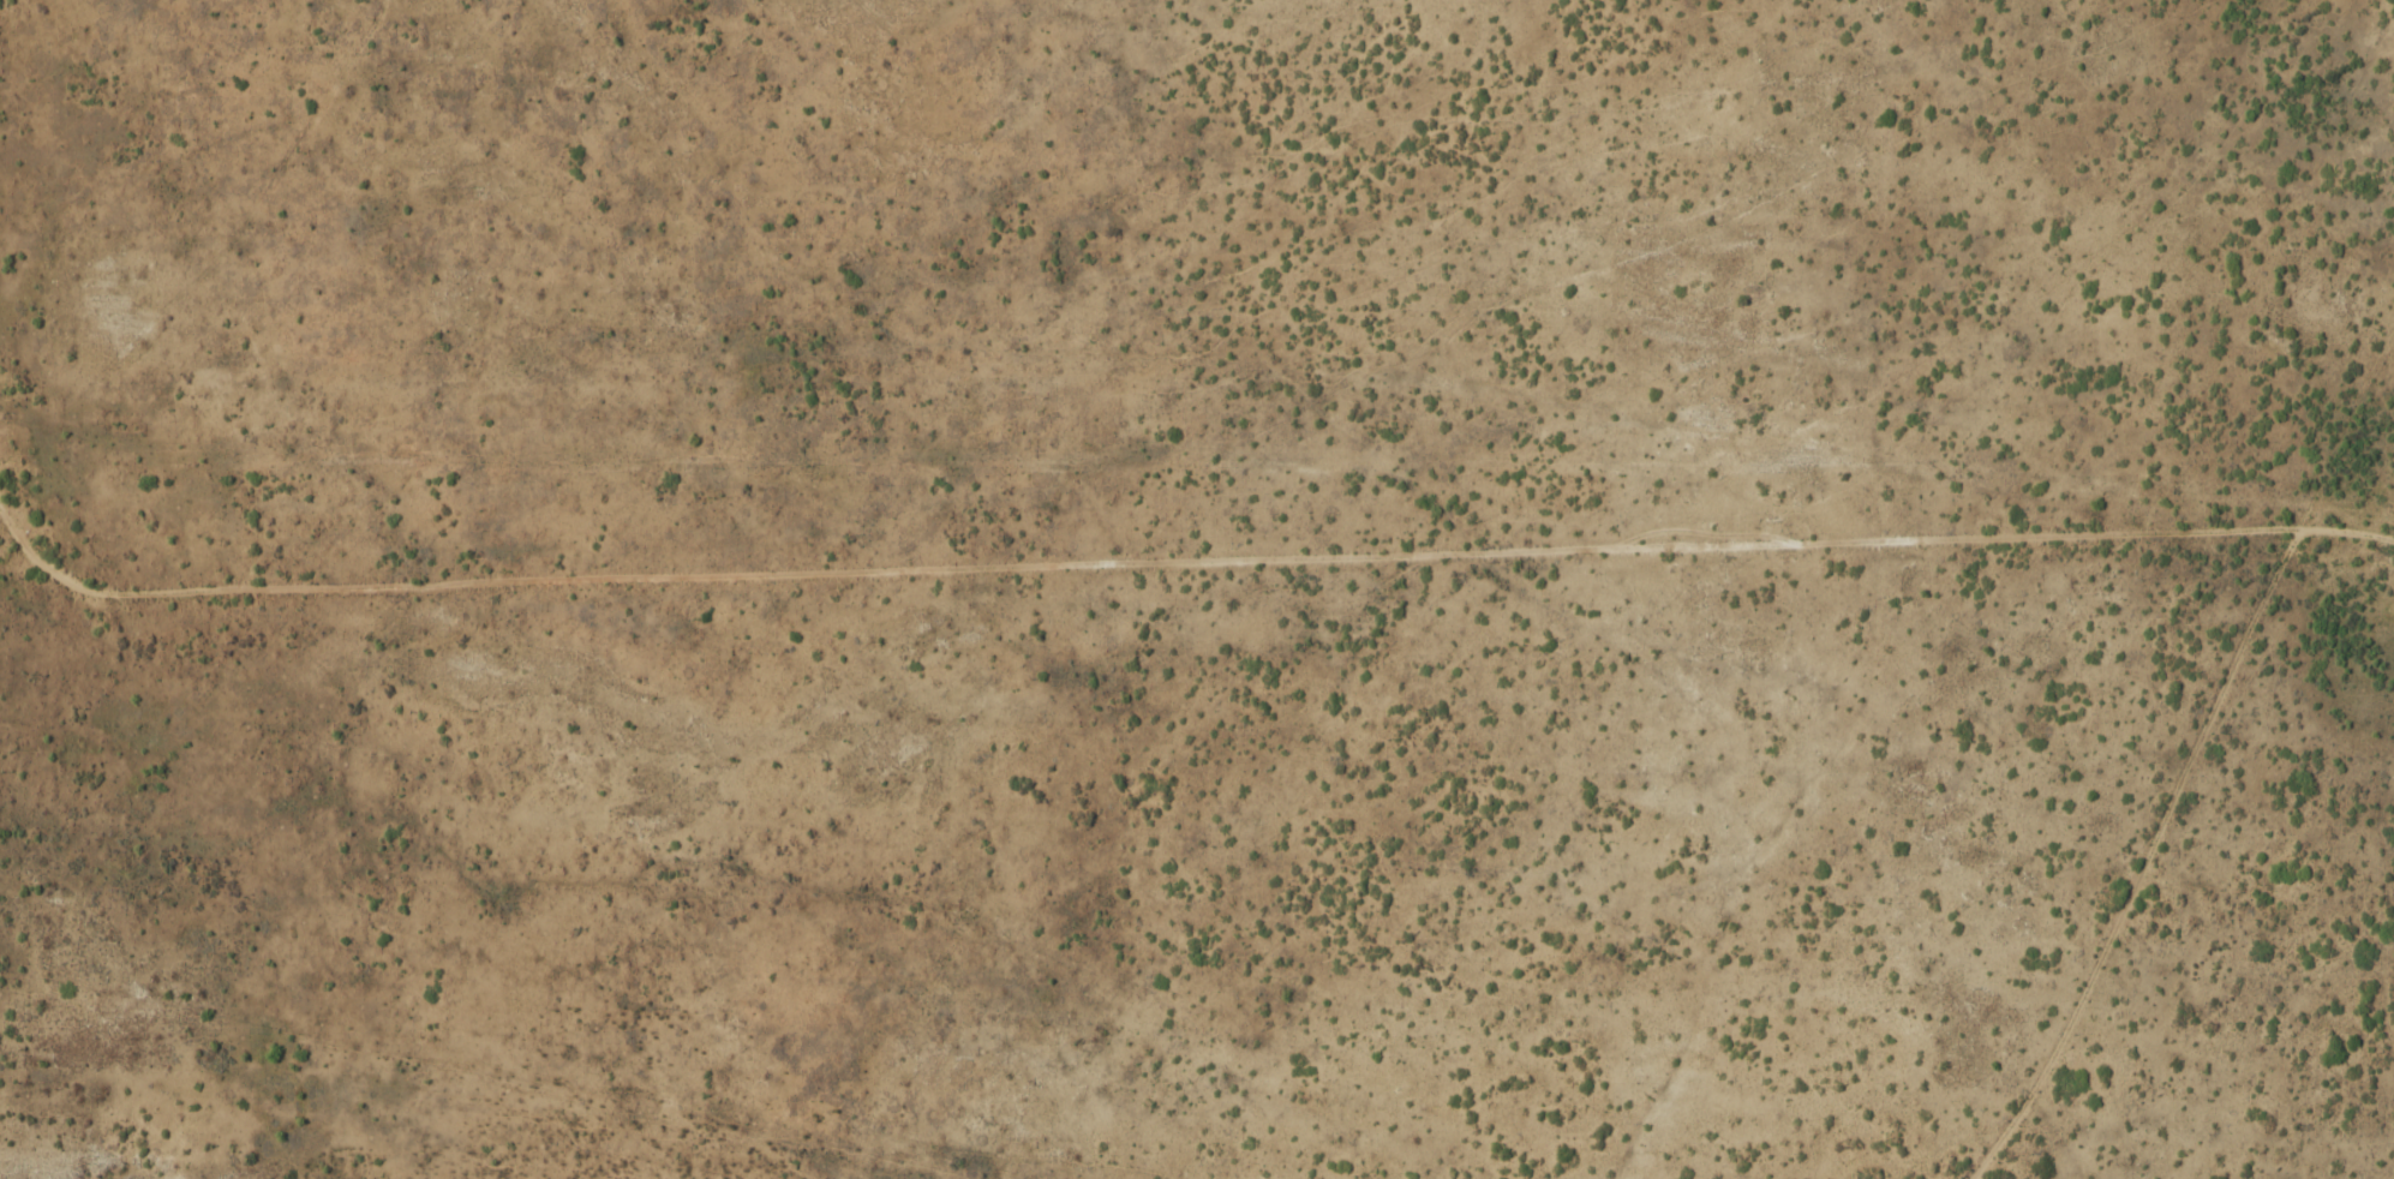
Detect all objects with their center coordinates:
road: (2184, 806)

